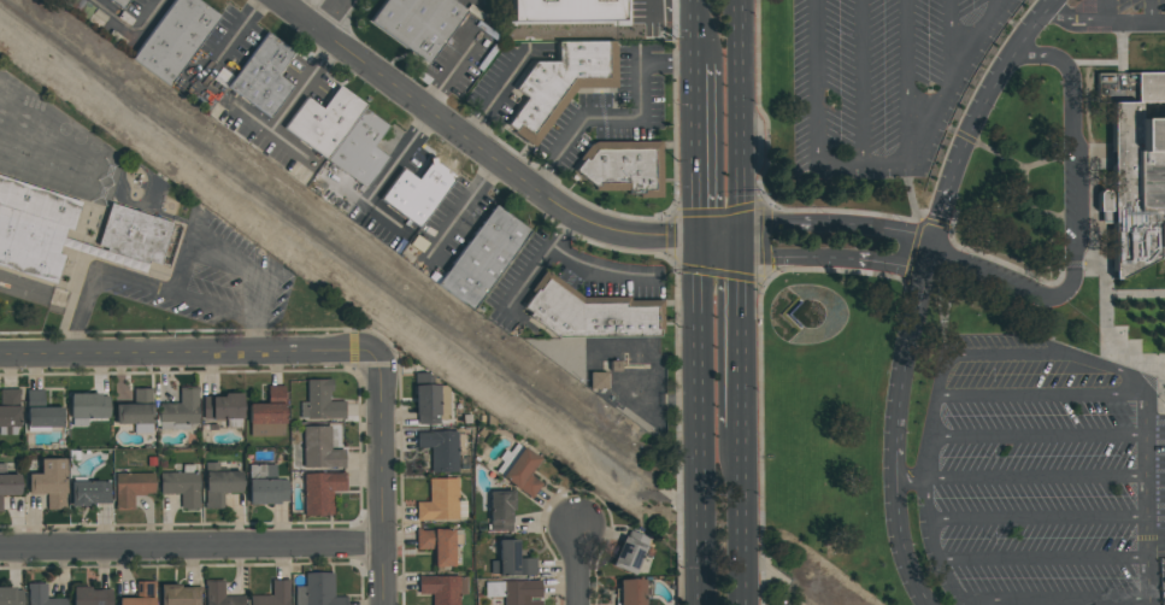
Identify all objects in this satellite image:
building: (120, 2)
road: (994, 7)
building: (565, 10)
road: (1110, 12)
road: (1151, 12)
road: (149, 14)
road: (331, 17)
parking lot: (1114, 18)
building: (418, 23)
road: (741, 24)
road: (1104, 24)
road: (696, 31)
building: (175, 39)
road: (952, 43)
road: (1113, 64)
building: (263, 76)
road: (816, 81)
road: (908, 81)
parking lot: (885, 82)
road: (861, 83)
building: (561, 84)
road: (287, 108)
road: (618, 118)
road: (740, 121)
road: (936, 122)
building: (340, 134)
road: (699, 153)
road: (1002, 157)
road: (492, 161)
road: (392, 164)
road: (1092, 164)
building: (623, 166)
building: (1138, 181)
road: (911, 192)
building: (417, 193)
parking lot: (1076, 195)
road: (1031, 208)
road: (1075, 228)
building: (69, 230)
traffic signals: (700, 242)
traffic signals: (742, 242)
road: (835, 243)
building: (482, 258)
road: (541, 262)
road: (599, 275)
road: (1029, 276)
road: (920, 289)
road: (937, 292)
road: (154, 293)
road: (1140, 294)
building: (590, 313)
road: (946, 316)
road: (742, 339)
road: (984, 356)
road: (190, 357)
building: (598, 380)
road: (1161, 390)
road: (1041, 394)
road: (1163, 395)
building: (320, 401)
building: (443, 403)
building: (426, 405)
building: (88, 406)
building: (222, 407)
building: (41, 411)
building: (136, 411)
building: (180, 411)
building: (8, 412)
building: (269, 415)
road: (700, 423)
road: (1036, 436)
building: (319, 448)
building: (440, 450)
building: (520, 470)
parking lot: (1040, 476)
road: (1035, 478)
road: (382, 481)
building: (49, 483)
building: (8, 484)
building: (182, 486)
building: (265, 486)
building: (131, 488)
building: (320, 492)
building: (89, 493)
road: (1147, 493)
building: (440, 501)
building: (500, 510)
road: (1037, 518)
road: (742, 521)
road: (929, 531)
building: (439, 545)
road: (190, 550)
building: (629, 552)
road: (1042, 559)
building: (511, 562)
road: (578, 568)
building: (442, 588)
building: (317, 591)
building: (514, 592)
building: (630, 592)
building: (219, 594)
building: (11, 595)
building: (41, 595)
building: (141, 595)
building: (180, 595)
building: (273, 595)
building: (92, 597)
road: (1053, 600)

